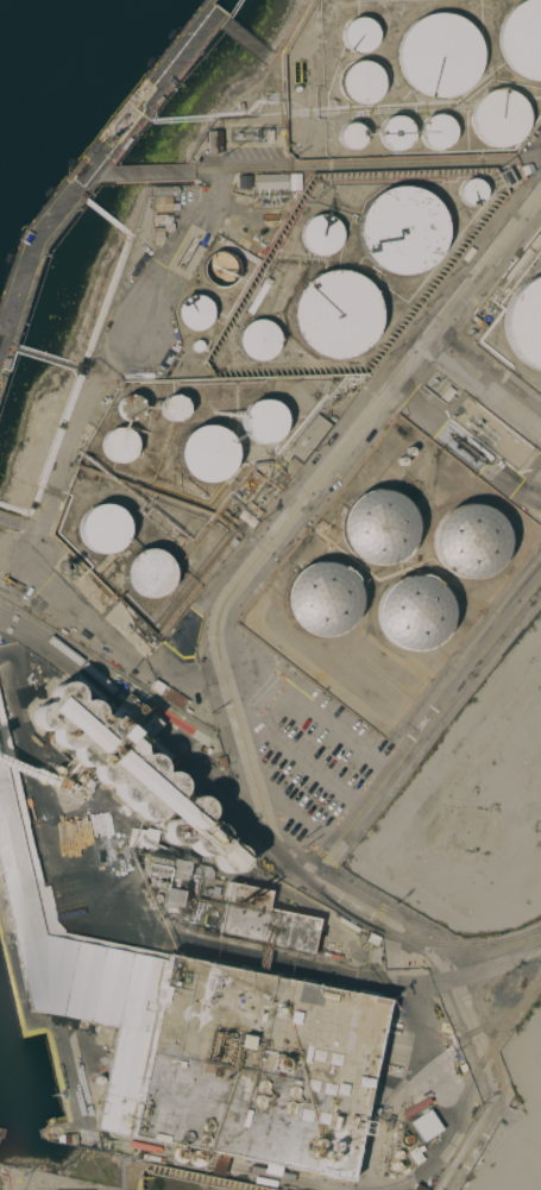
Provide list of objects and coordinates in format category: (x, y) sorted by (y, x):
building: (360, 37)
storage tank: (360, 37)
building: (522, 40)
storage tank: (522, 40)
building: (441, 57)
storage tank: (441, 57)
building: (363, 86)
storage tank: (363, 86)
building: (297, 90)
building: (159, 100)
building: (503, 120)
storage tank: (503, 120)
building: (439, 134)
storage tank: (439, 134)
building: (396, 136)
storage tank: (396, 136)
building: (351, 140)
storage tank: (351, 140)
building: (126, 143)
building: (215, 143)
road: (371, 164)
pier: (113, 168)
building: (277, 181)
building: (83, 195)
building: (474, 195)
storage tank: (474, 195)
building: (166, 204)
building: (163, 221)
building: (158, 232)
building: (403, 237)
storage tank: (403, 237)
building: (321, 238)
storage tank: (321, 238)
building: (143, 263)
building: (222, 273)
storage tank: (222, 273)
building: (196, 317)
storage tank: (196, 317)
building: (335, 320)
storage tank: (335, 320)
building: (524, 330)
storage tank: (524, 330)
building: (259, 344)
storage tank: (259, 344)
storage tank: (200, 350)
building: (6, 363)
road: (485, 379)
building: (175, 404)
storage tank: (175, 404)
building: (132, 405)
storage tank: (132, 405)
road: (370, 414)
building: (265, 417)
storage tank: (265, 417)
building: (309, 437)
building: (120, 442)
storage tank: (120, 442)
building: (208, 451)
storage tank: (208, 451)
building: (247, 518)
pier: (11, 521)
building: (377, 524)
storage tank: (377, 524)
building: (102, 525)
storage tank: (102, 525)
building: (471, 539)
storage tank: (471, 539)
building: (149, 572)
storage tank: (149, 572)
building: (321, 598)
storage tank: (321, 598)
building: (413, 611)
building: (132, 628)
building: (156, 686)
building: (175, 697)
road: (428, 729)
railway: (168, 738)
building: (128, 776)
silo: (128, 776)
railway: (252, 830)
road: (335, 883)
building: (169, 896)
building: (266, 923)
building: (372, 938)
road: (499, 955)
building: (199, 1027)
building: (463, 1068)
building: (99, 1079)
railway: (470, 1098)
building: (426, 1126)
building: (69, 1138)
building: (407, 1138)
road: (466, 1140)
building: (397, 1153)
building: (177, 1154)
building: (416, 1154)
building: (195, 1157)
building: (153, 1158)
railway: (228, 1165)
building: (395, 1165)
pier: (6, 1172)
building: (419, 1188)

